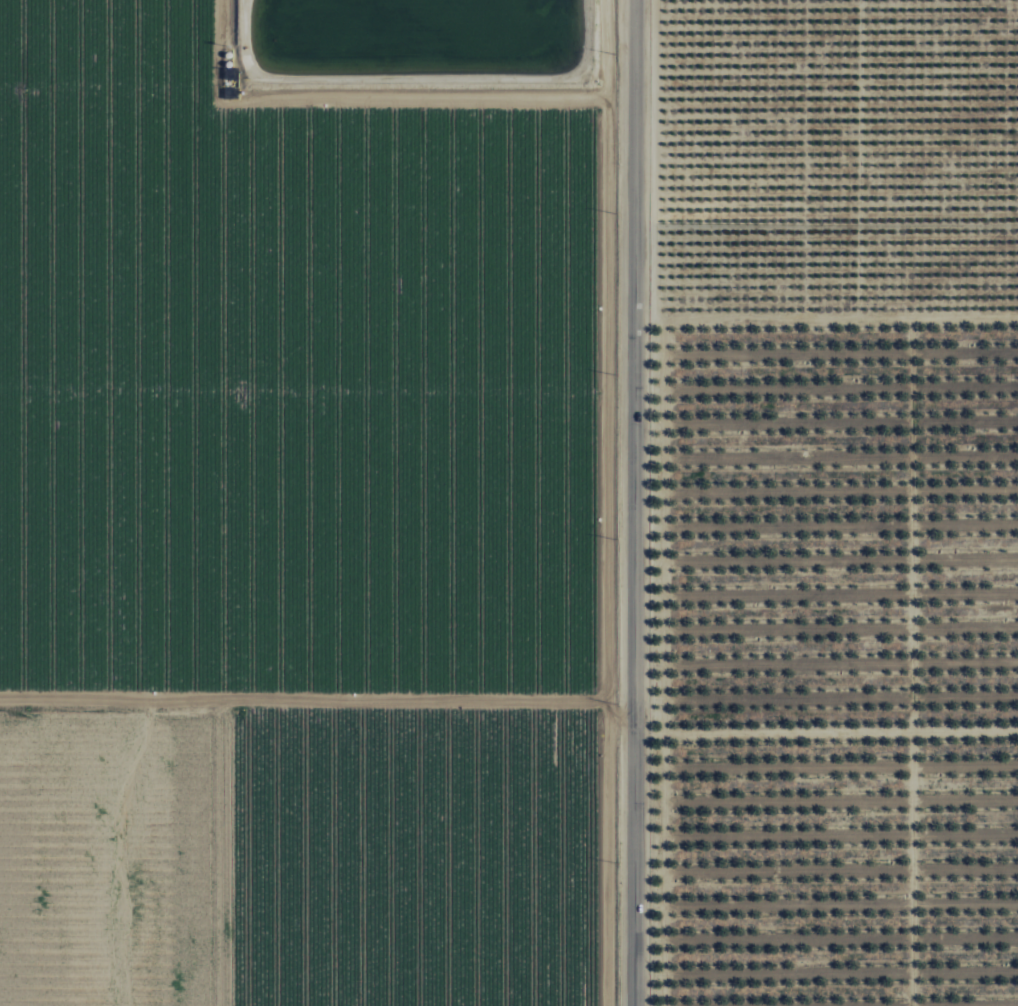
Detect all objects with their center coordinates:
road: (358, 93)
road: (303, 383)
crop: (310, 502)
road: (606, 503)
road: (634, 503)
road: (303, 701)

